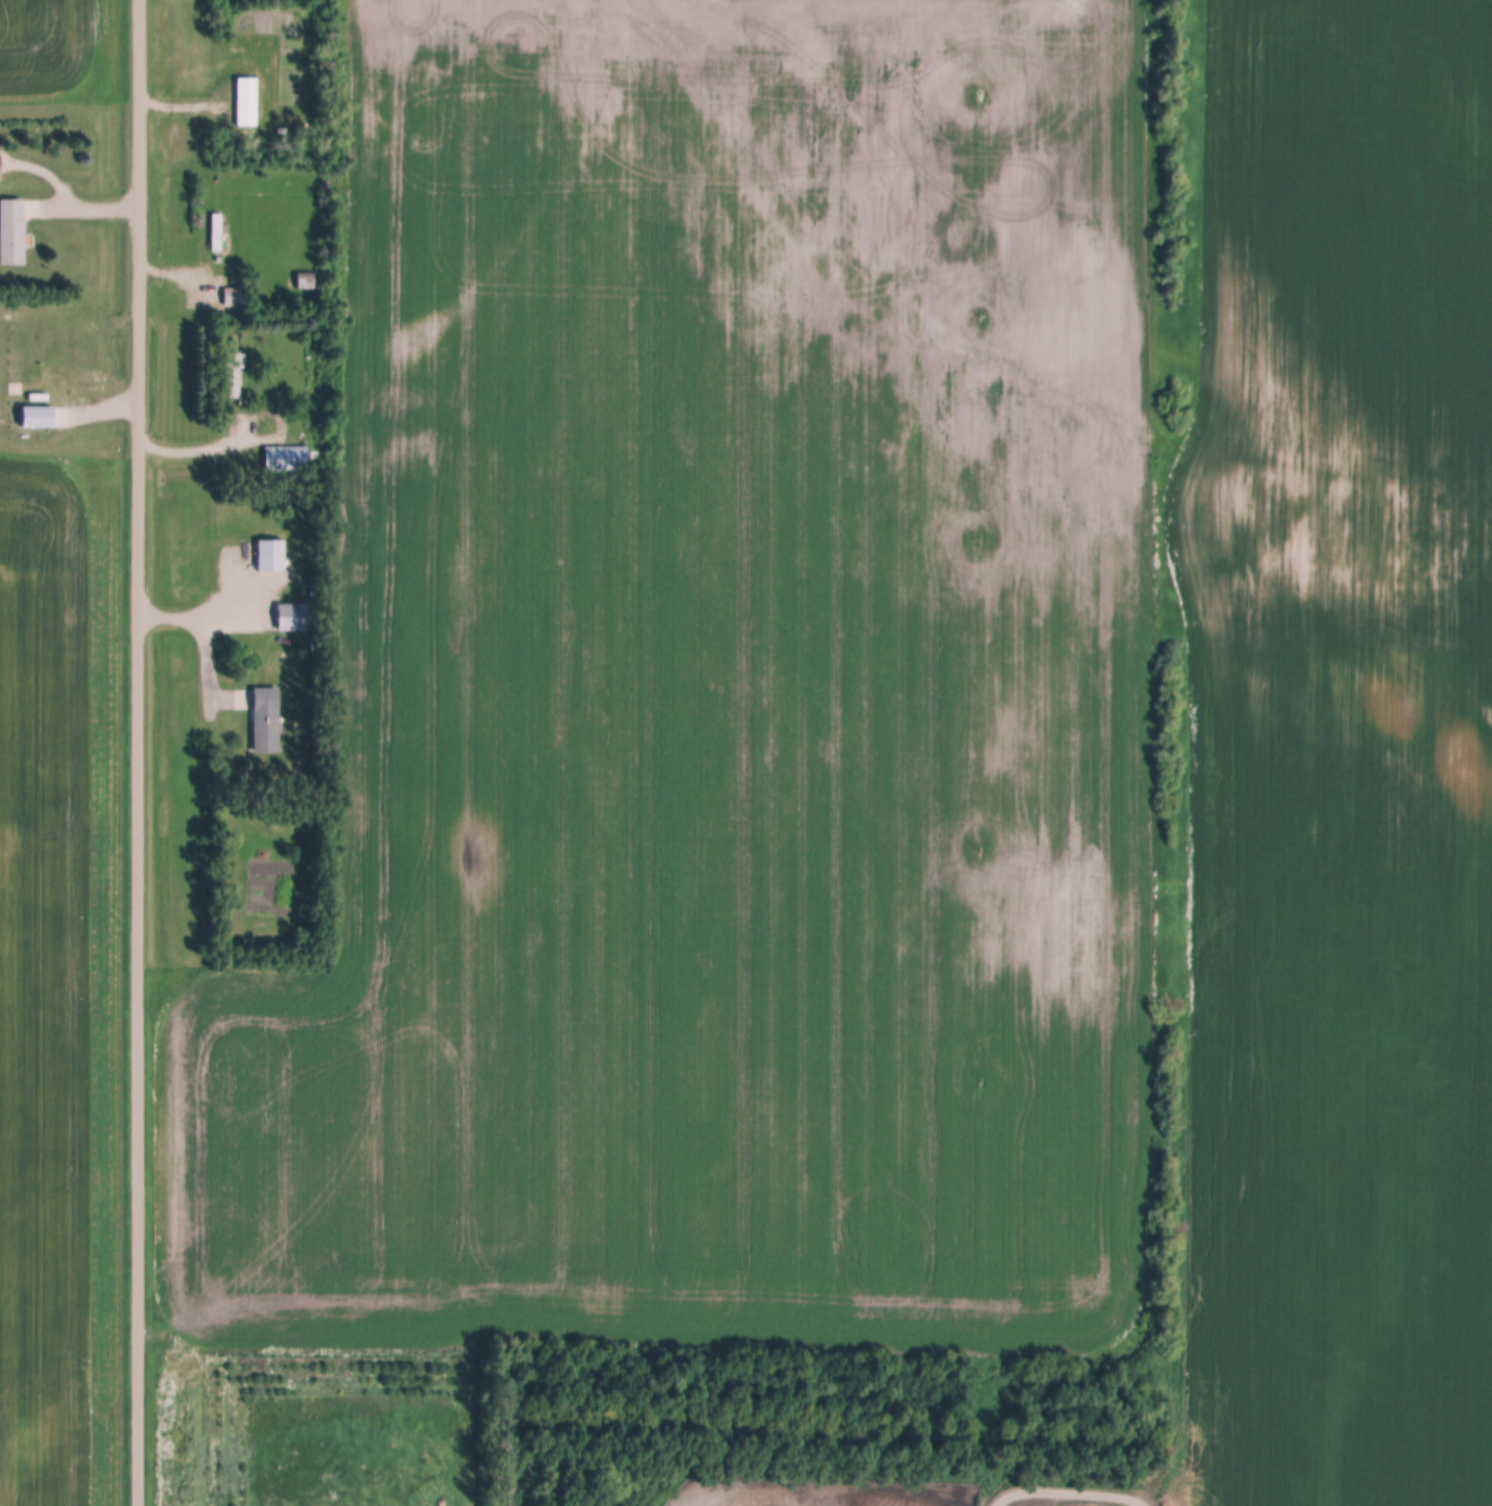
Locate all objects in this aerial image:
building: (246, 102)
building: (13, 233)
building: (216, 233)
building: (304, 280)
building: (234, 297)
building: (234, 376)
building: (40, 417)
building: (287, 459)
building: (271, 556)
building: (252, 700)
road: (139, 752)

